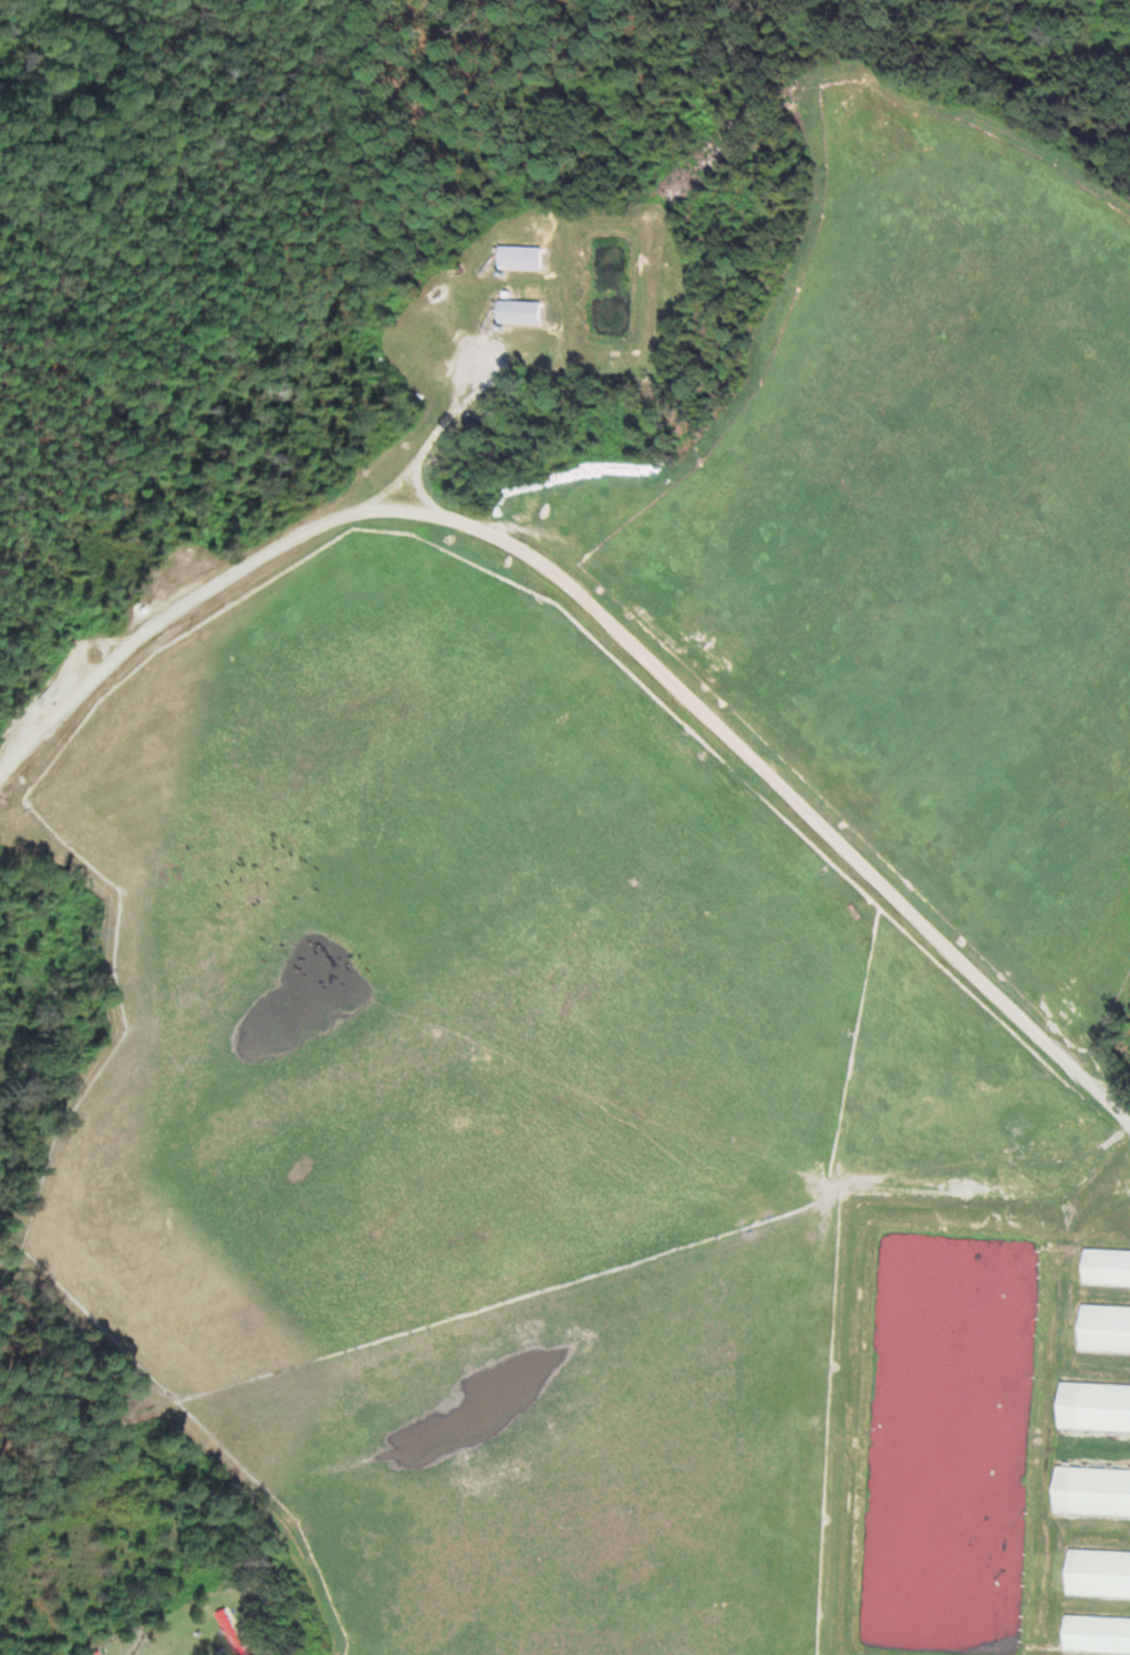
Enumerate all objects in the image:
building: (523, 257)
building: (521, 310)
road: (599, 617)
building: (1107, 1266)
building: (1106, 1327)
building: (1103, 1406)
building: (1101, 1490)
building: (1099, 1572)
building: (1098, 1633)

